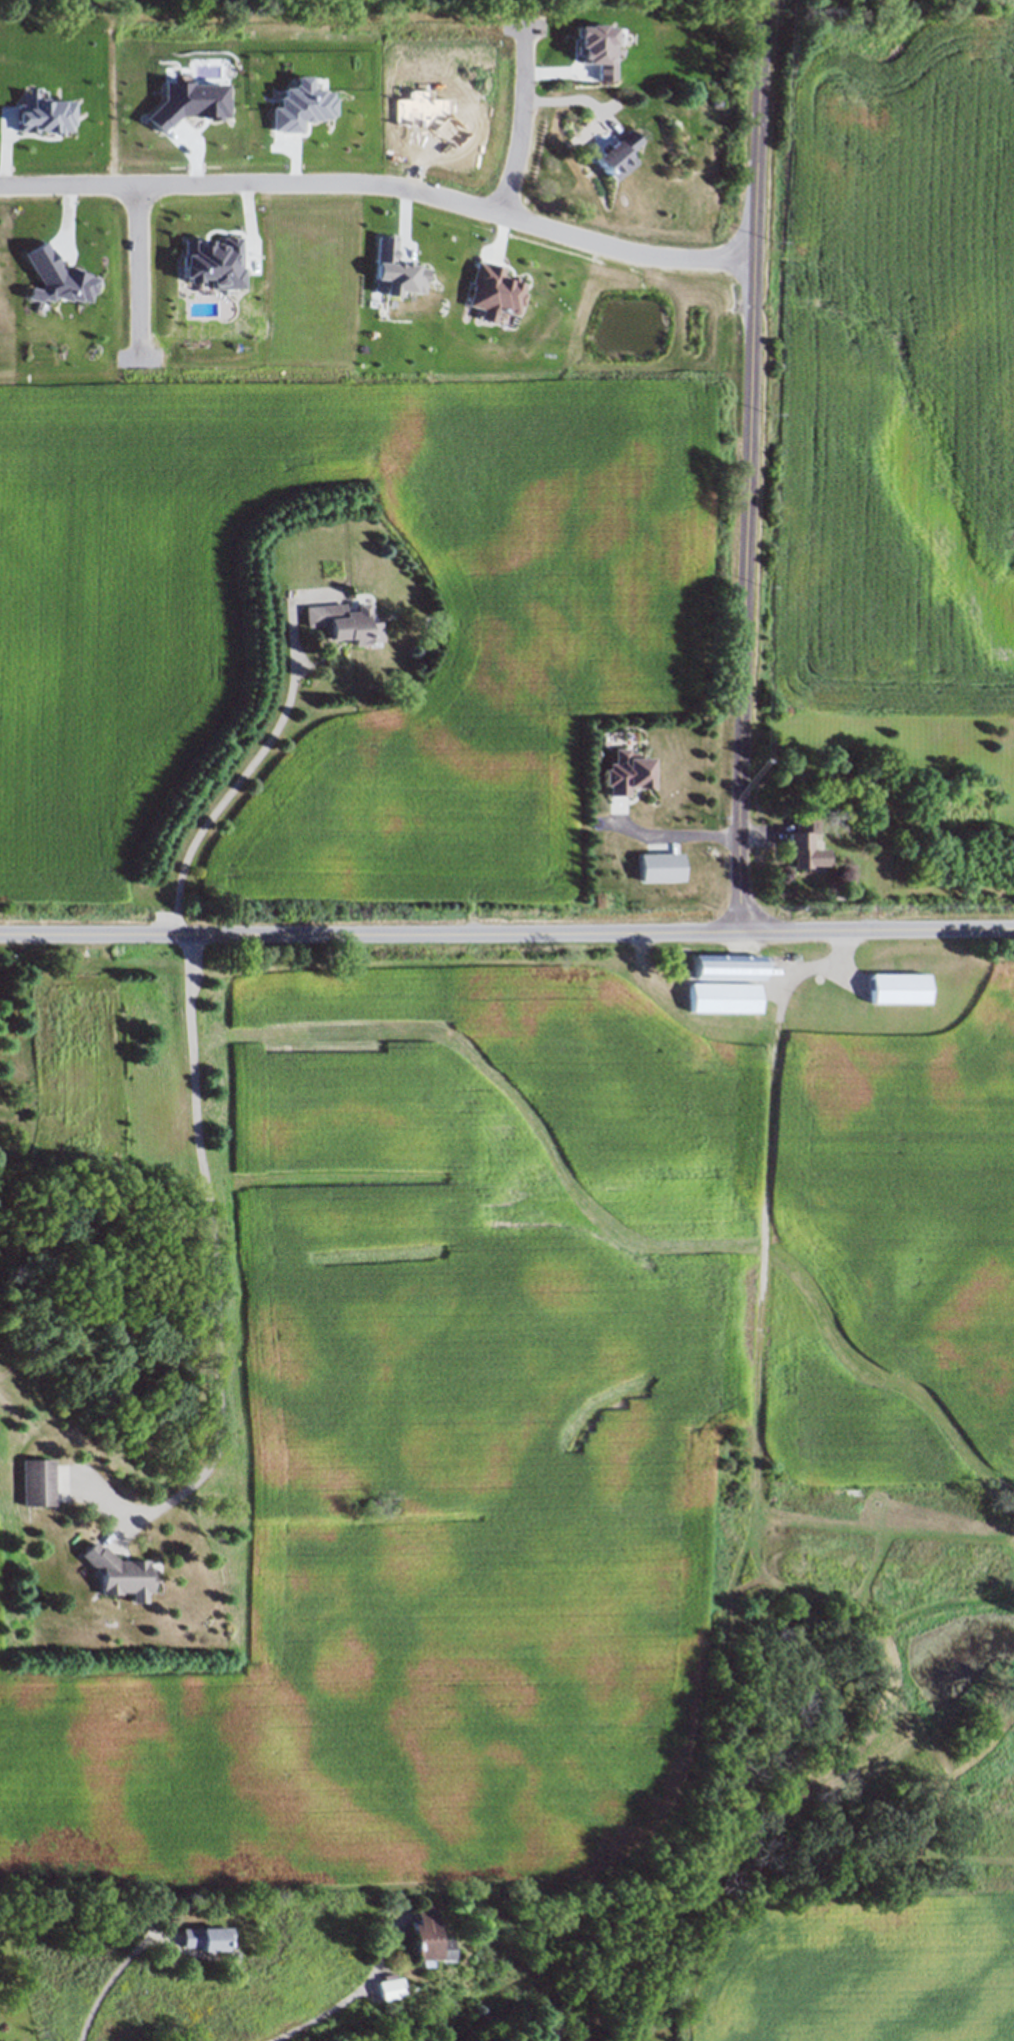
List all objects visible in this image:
road: (113, 106)
road: (517, 119)
building: (614, 152)
building: (435, 160)
road: (382, 183)
road: (137, 274)
crop: (895, 366)
road: (749, 466)
building: (343, 623)
road: (247, 774)
road: (670, 836)
building: (801, 846)
road: (507, 934)
building: (725, 982)
building: (898, 986)
road: (216, 1258)
road: (764, 1268)
crop: (533, 1398)
building: (37, 1482)
building: (116, 1572)
building: (427, 1937)
building: (203, 1938)
crop: (858, 1964)
road: (107, 1981)
building: (387, 1986)
road: (344, 1999)

